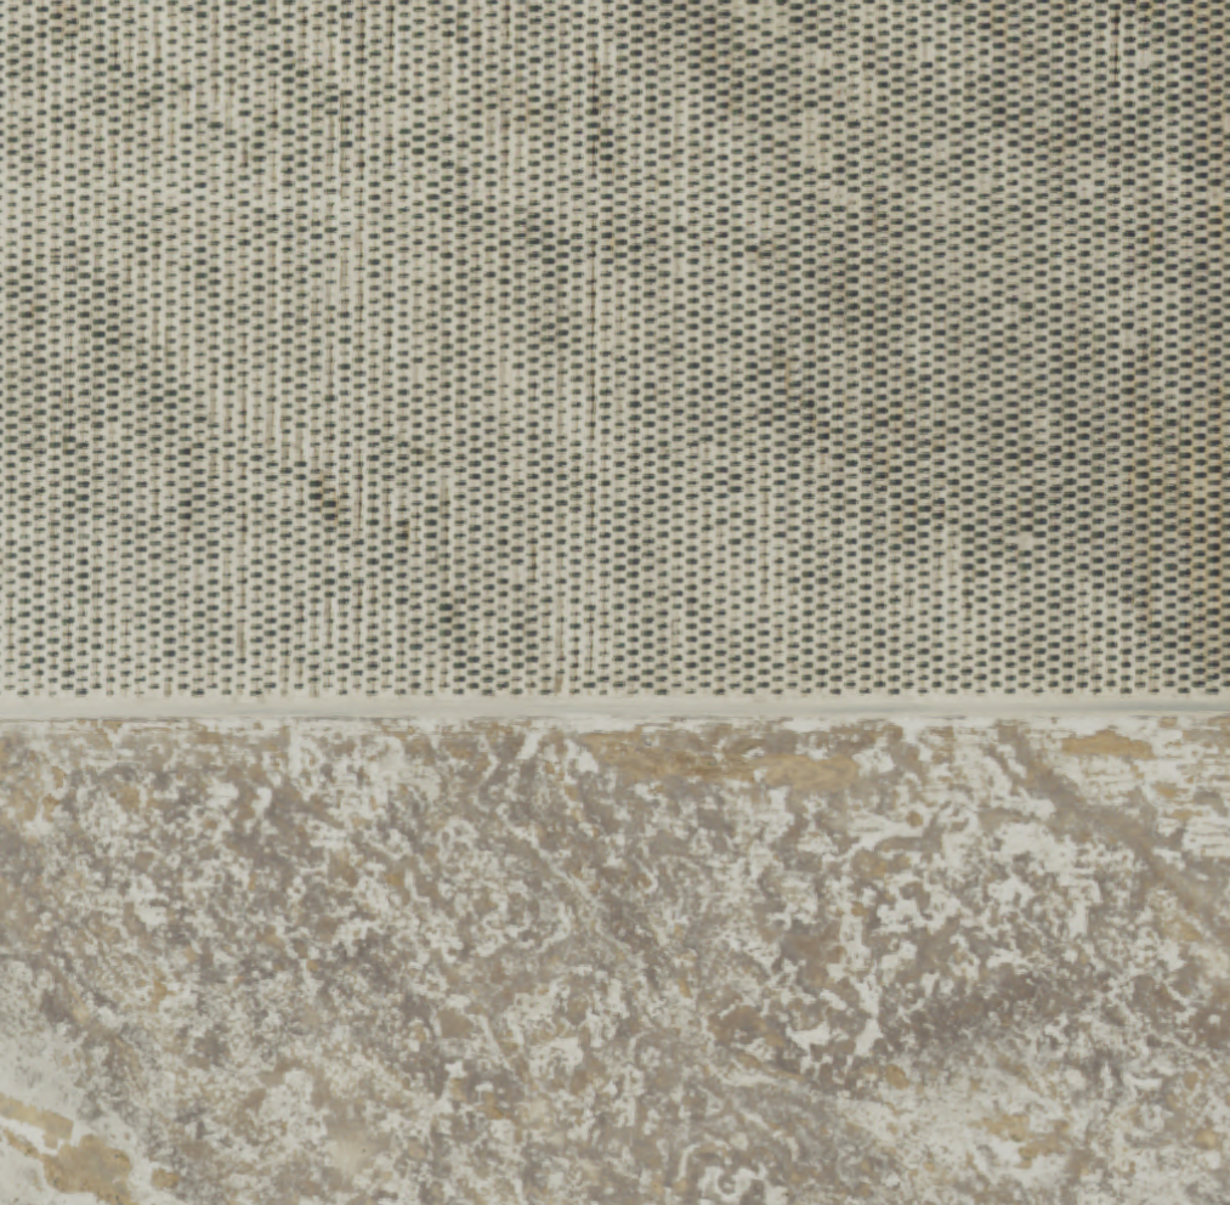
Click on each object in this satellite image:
road: (614, 712)

